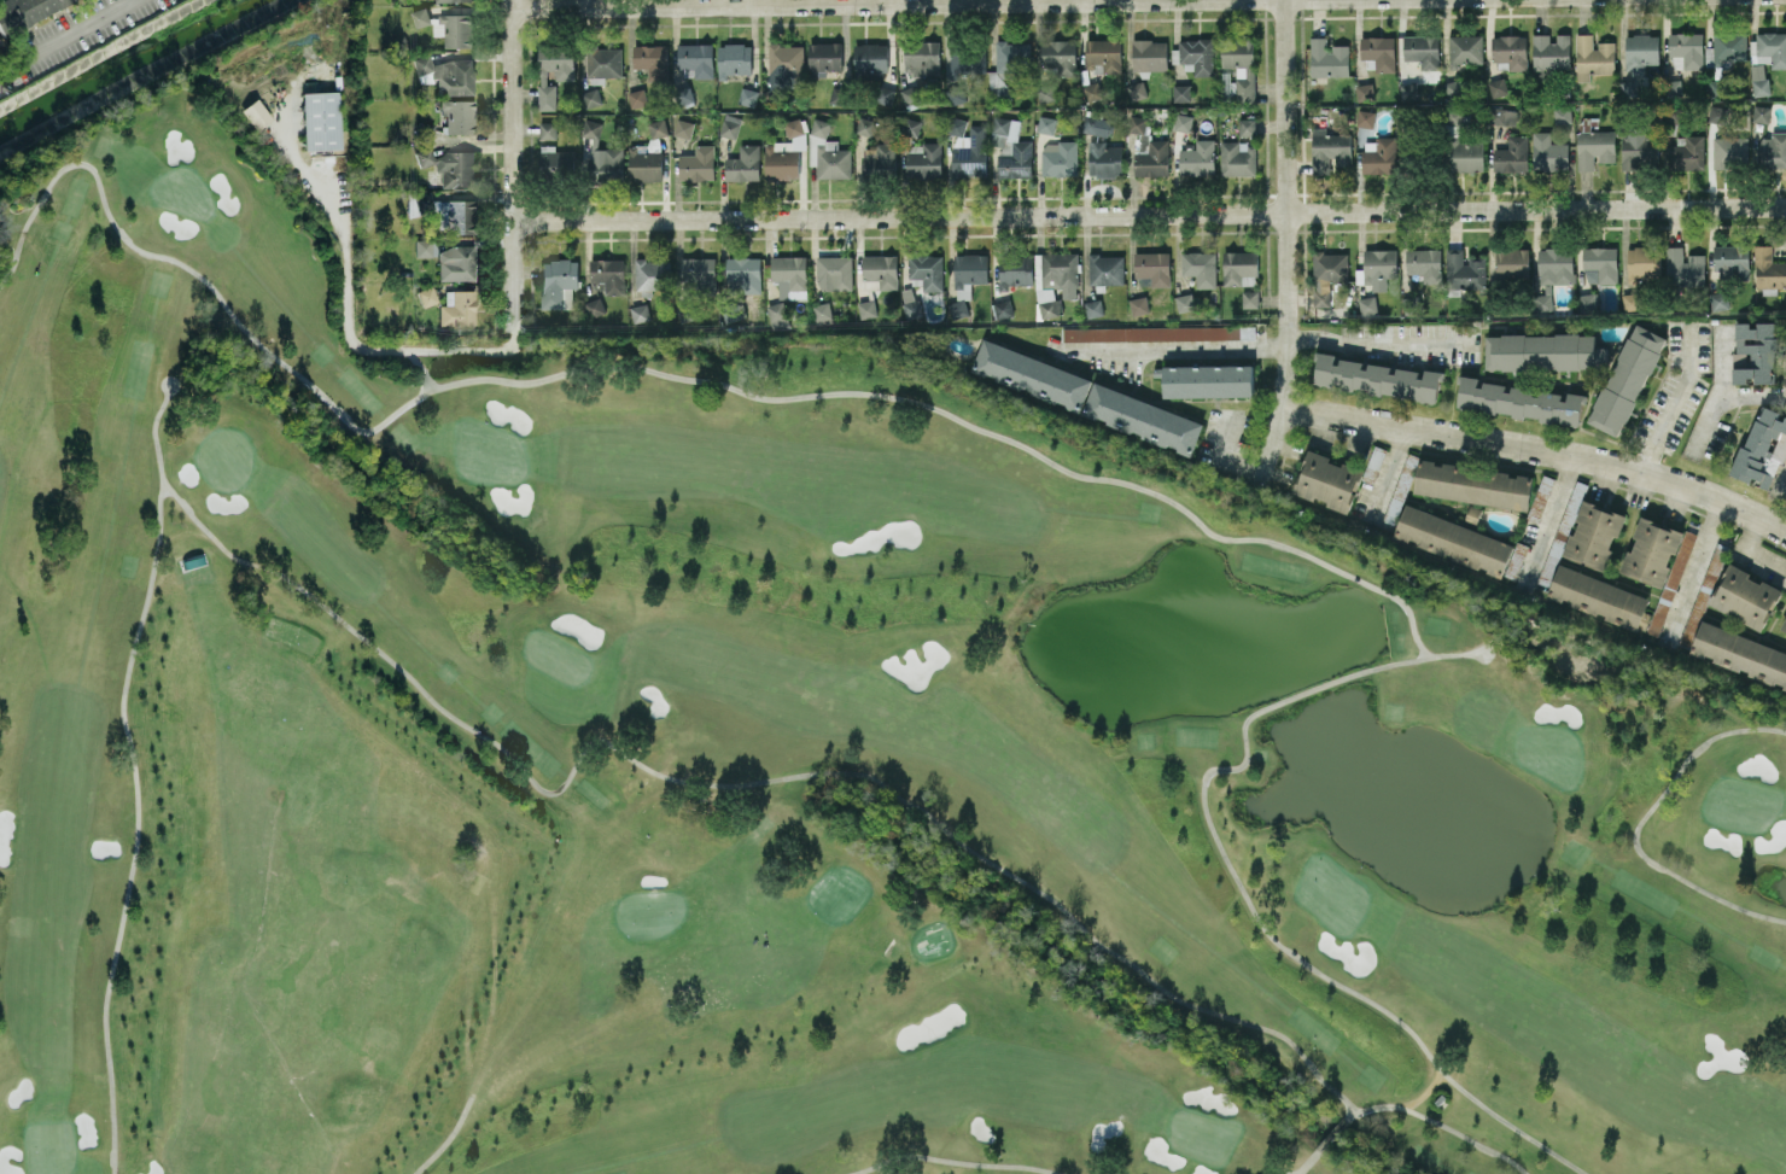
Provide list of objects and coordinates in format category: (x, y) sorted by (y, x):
building: (453, 0)
road: (949, 5)
building: (25, 12)
building: (421, 17)
building: (455, 30)
road: (68, 35)
building: (1729, 47)
building: (1465, 49)
building: (1769, 49)
building: (1423, 51)
building: (1685, 51)
building: (1379, 52)
building: (1510, 52)
building: (1551, 52)
building: (1640, 53)
building: (1709, 54)
building: (1103, 56)
building: (1149, 56)
building: (825, 57)
building: (1012, 57)
building: (1058, 57)
building: (1197, 57)
building: (1593, 57)
building: (922, 58)
building: (1329, 58)
building: (696, 59)
building: (734, 60)
building: (605, 62)
building: (652, 62)
building: (871, 62)
building: (968, 62)
building: (786, 65)
building: (1241, 66)
building: (446, 74)
building: (565, 76)
building: (1759, 80)
building: (1498, 87)
building: (1716, 88)
building: (1454, 89)
building: (1629, 89)
building: (1673, 89)
building: (1092, 90)
building: (1138, 90)
building: (1365, 92)
building: (1409, 92)
building: (1046, 93)
building: (1181, 93)
building: (910, 94)
building: (1000, 94)
building: (684, 95)
building: (593, 97)
building: (748, 97)
building: (837, 97)
building: (885, 97)
building: (637, 99)
building: (256, 113)
building: (1563, 115)
building: (1717, 115)
building: (1761, 115)
building: (459, 116)
building: (1504, 117)
building: (1366, 118)
building: (320, 119)
building: (1046, 124)
building: (1096, 125)
building: (730, 127)
building: (865, 127)
building: (910, 127)
building: (957, 127)
building: (1247, 127)
building: (658, 128)
building: (819, 128)
building: (424, 129)
building: (684, 129)
building: (548, 130)
building: (1638, 147)
building: (1594, 148)
building: (1011, 150)
building: (1329, 151)
building: (1773, 151)
building: (1692, 152)
building: (1729, 152)
building: (786, 153)
building: (1548, 153)
building: (971, 154)
building: (1379, 156)
building: (1512, 156)
building: (603, 157)
building: (1467, 157)
building: (1060, 158)
building: (1105, 159)
building: (1238, 159)
building: (831, 160)
building: (923, 160)
building: (556, 162)
building: (646, 162)
building: (880, 162)
building: (1197, 162)
building: (699, 164)
building: (743, 164)
road: (514, 165)
building: (450, 167)
building: (418, 204)
building: (455, 216)
road: (1150, 216)
road: (1290, 244)
building: (422, 247)
building: (1732, 261)
building: (456, 263)
building: (1512, 263)
building: (1601, 263)
building: (1644, 263)
building: (1424, 264)
building: (1239, 267)
building: (1154, 268)
building: (1201, 268)
building: (1379, 268)
building: (1683, 268)
building: (1107, 269)
building: (1768, 269)
building: (881, 270)
building: (1015, 270)
building: (1464, 270)
building: (927, 271)
building: (698, 273)
building: (834, 273)
building: (1061, 273)
building: (743, 274)
building: (969, 274)
building: (609, 275)
building: (652, 275)
building: (1327, 275)
building: (1552, 275)
building: (558, 284)
building: (426, 296)
building: (1250, 299)
building: (1718, 300)
building: (1632, 302)
building: (1185, 303)
building: (1587, 303)
building: (1139, 305)
building: (1367, 305)
building: (457, 308)
building: (595, 308)
building: (1093, 308)
building: (866, 309)
building: (912, 309)
building: (1003, 309)
building: (1051, 309)
building: (640, 314)
building: (778, 314)
building: (822, 314)
road: (349, 331)
building: (1158, 333)
road: (1383, 345)
road: (1180, 350)
building: (1543, 352)
building: (1755, 352)
building: (1032, 375)
building: (1377, 379)
building: (1627, 380)
building: (1208, 381)
road: (1721, 392)
road: (1753, 396)
building: (1519, 402)
road: (1675, 403)
building: (1143, 419)
building: (1763, 449)
road: (1539, 451)
road: (1383, 473)
building: (1327, 481)
road: (1781, 483)
building: (1473, 485)
building: (1542, 496)
road: (1548, 518)
building: (1588, 531)
building: (1461, 543)
road: (1751, 551)
building: (1658, 563)
road: (1695, 570)
building: (1704, 596)
building: (1599, 597)
building: (1746, 597)
building: (1785, 629)
building: (1740, 654)
park: (780, 755)

